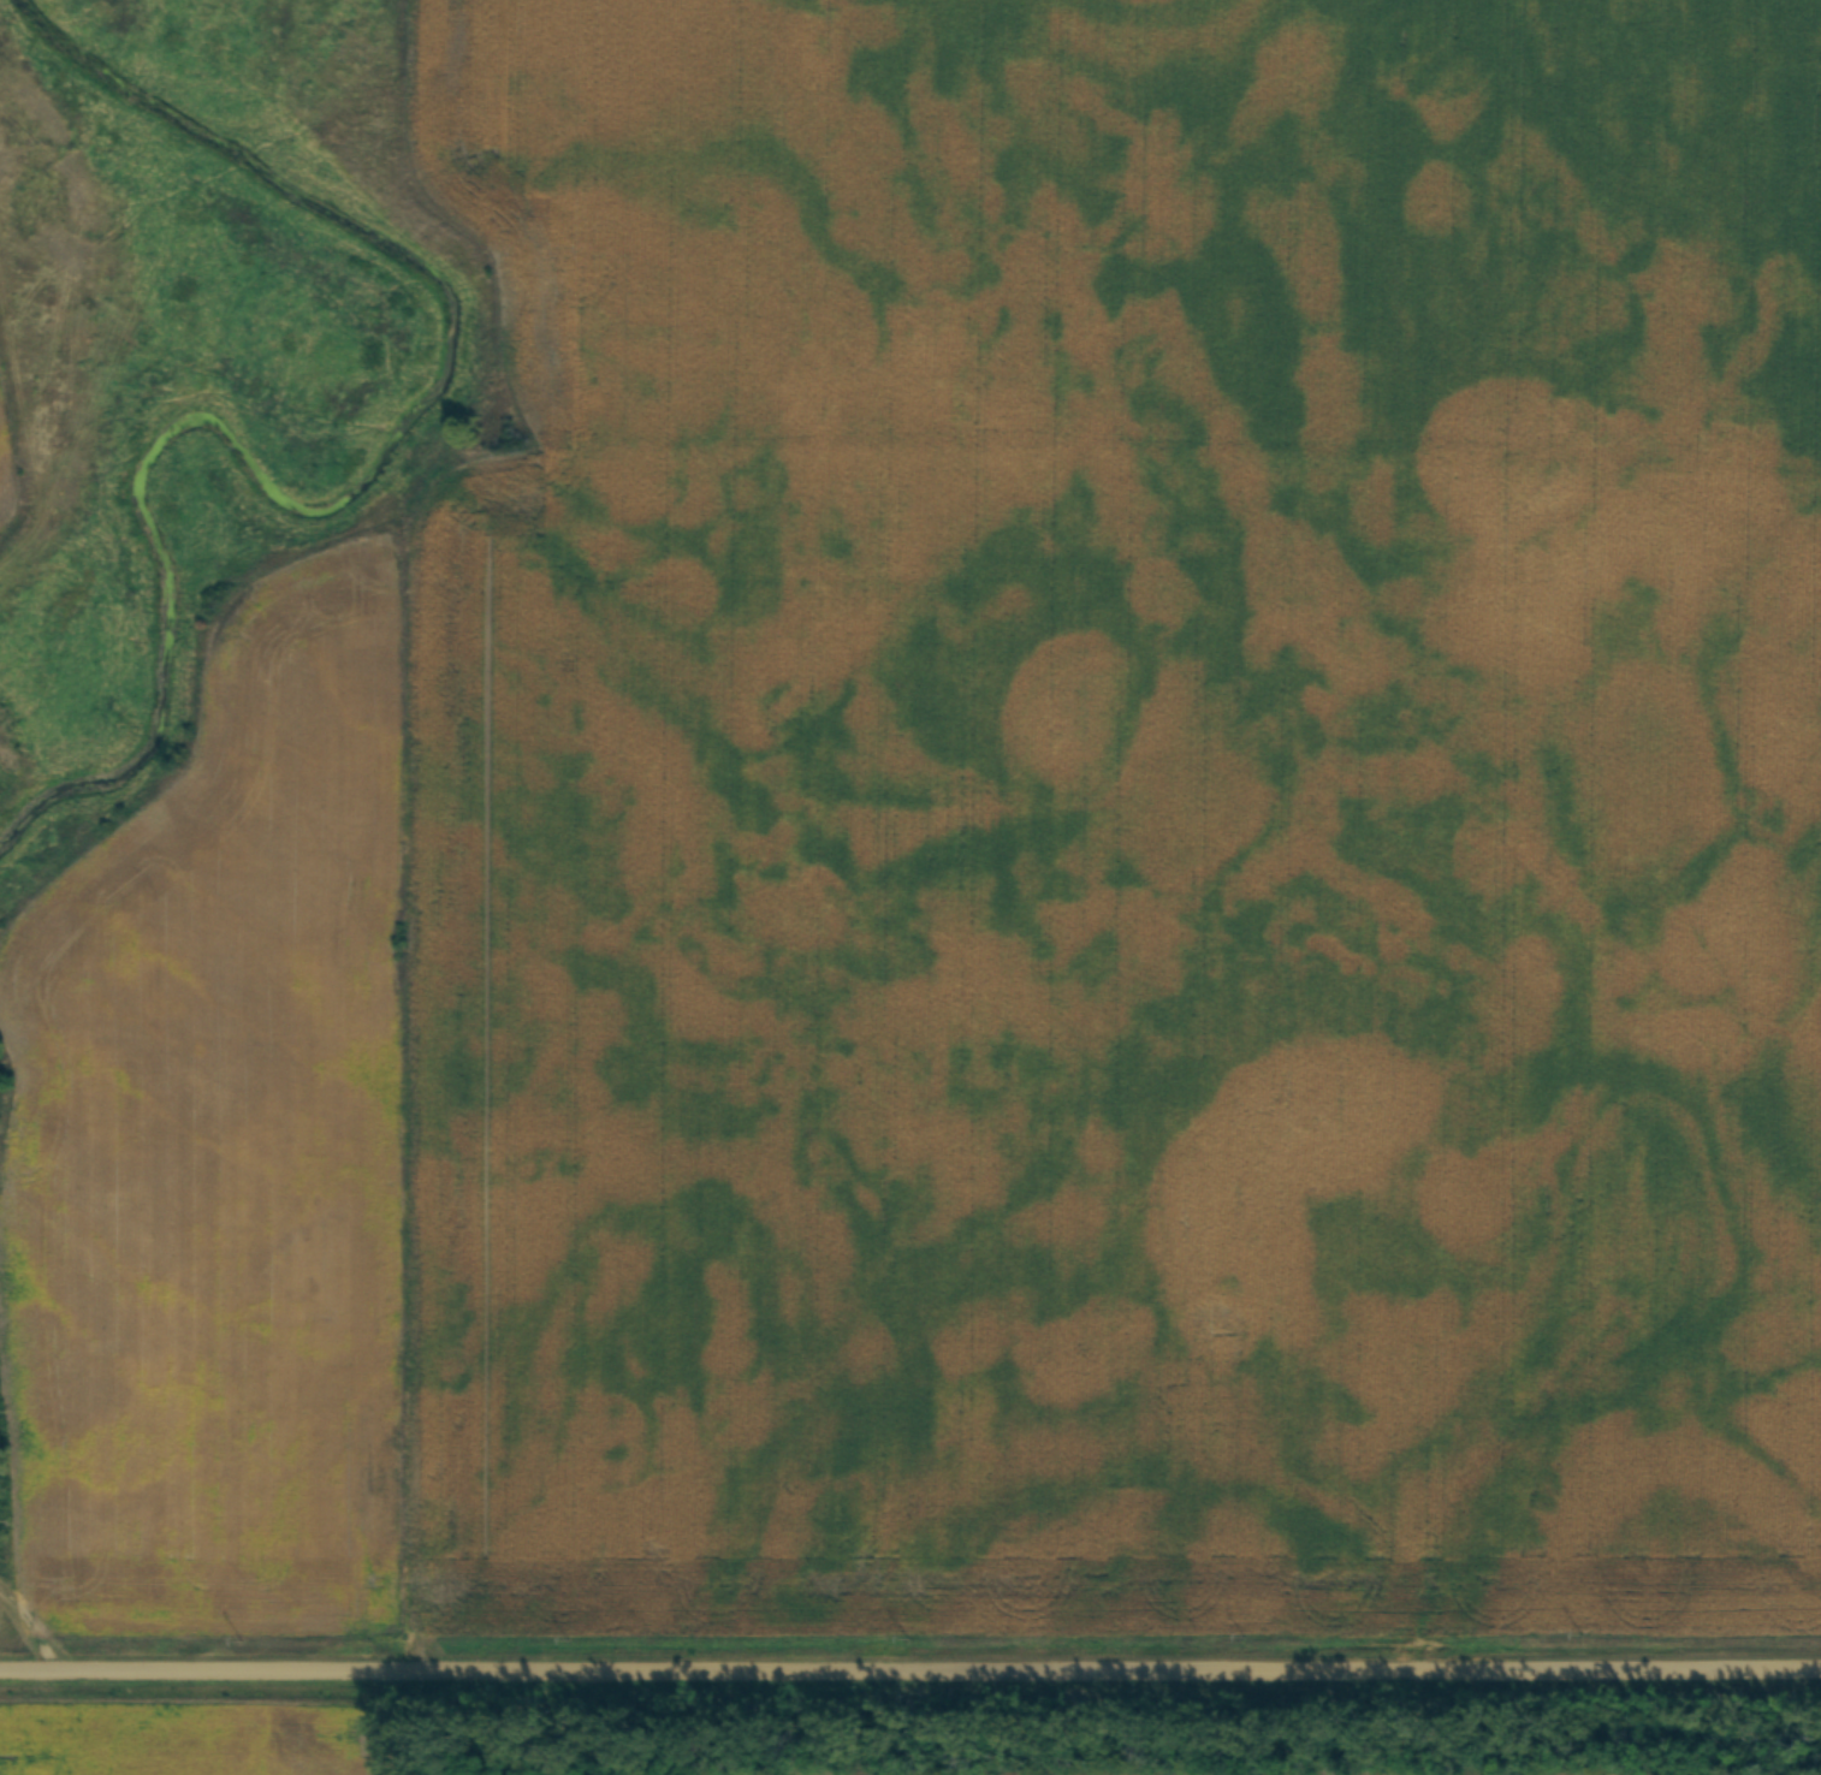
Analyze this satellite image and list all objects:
road: (910, 1675)

